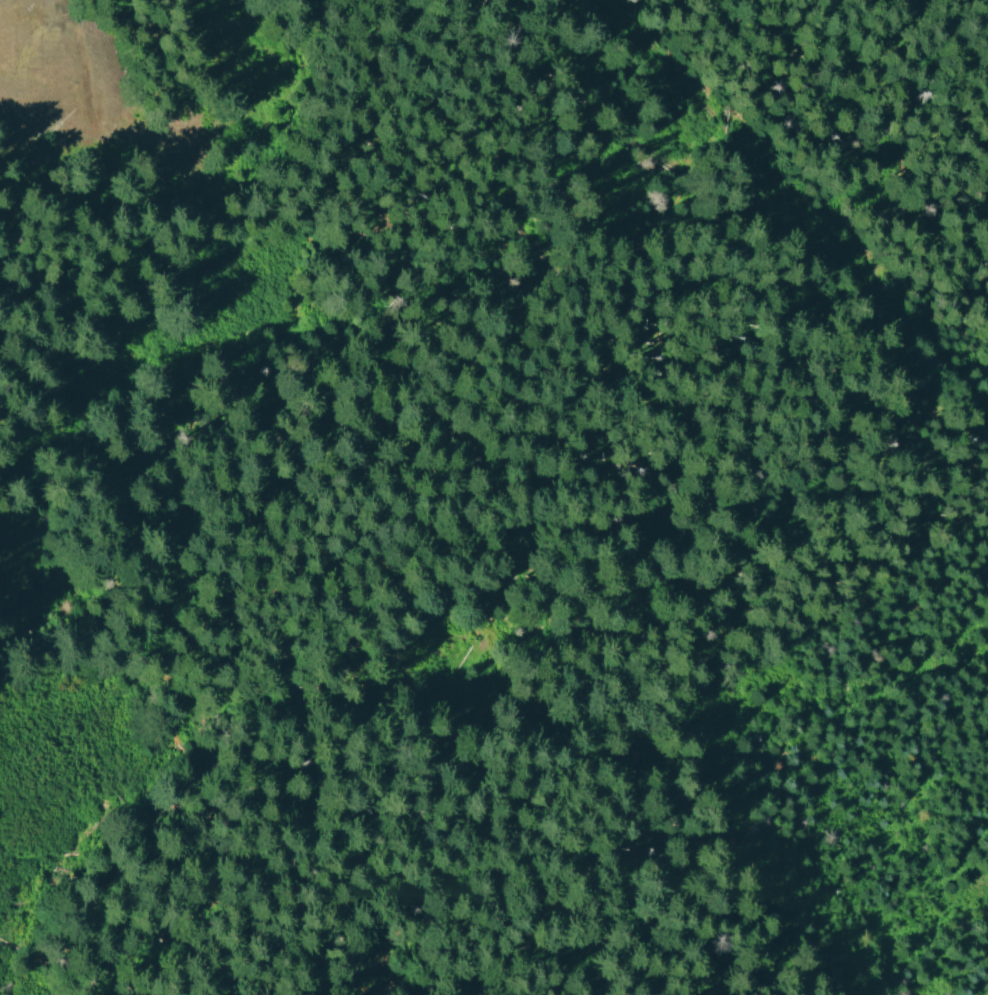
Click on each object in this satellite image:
road: (798, 200)

